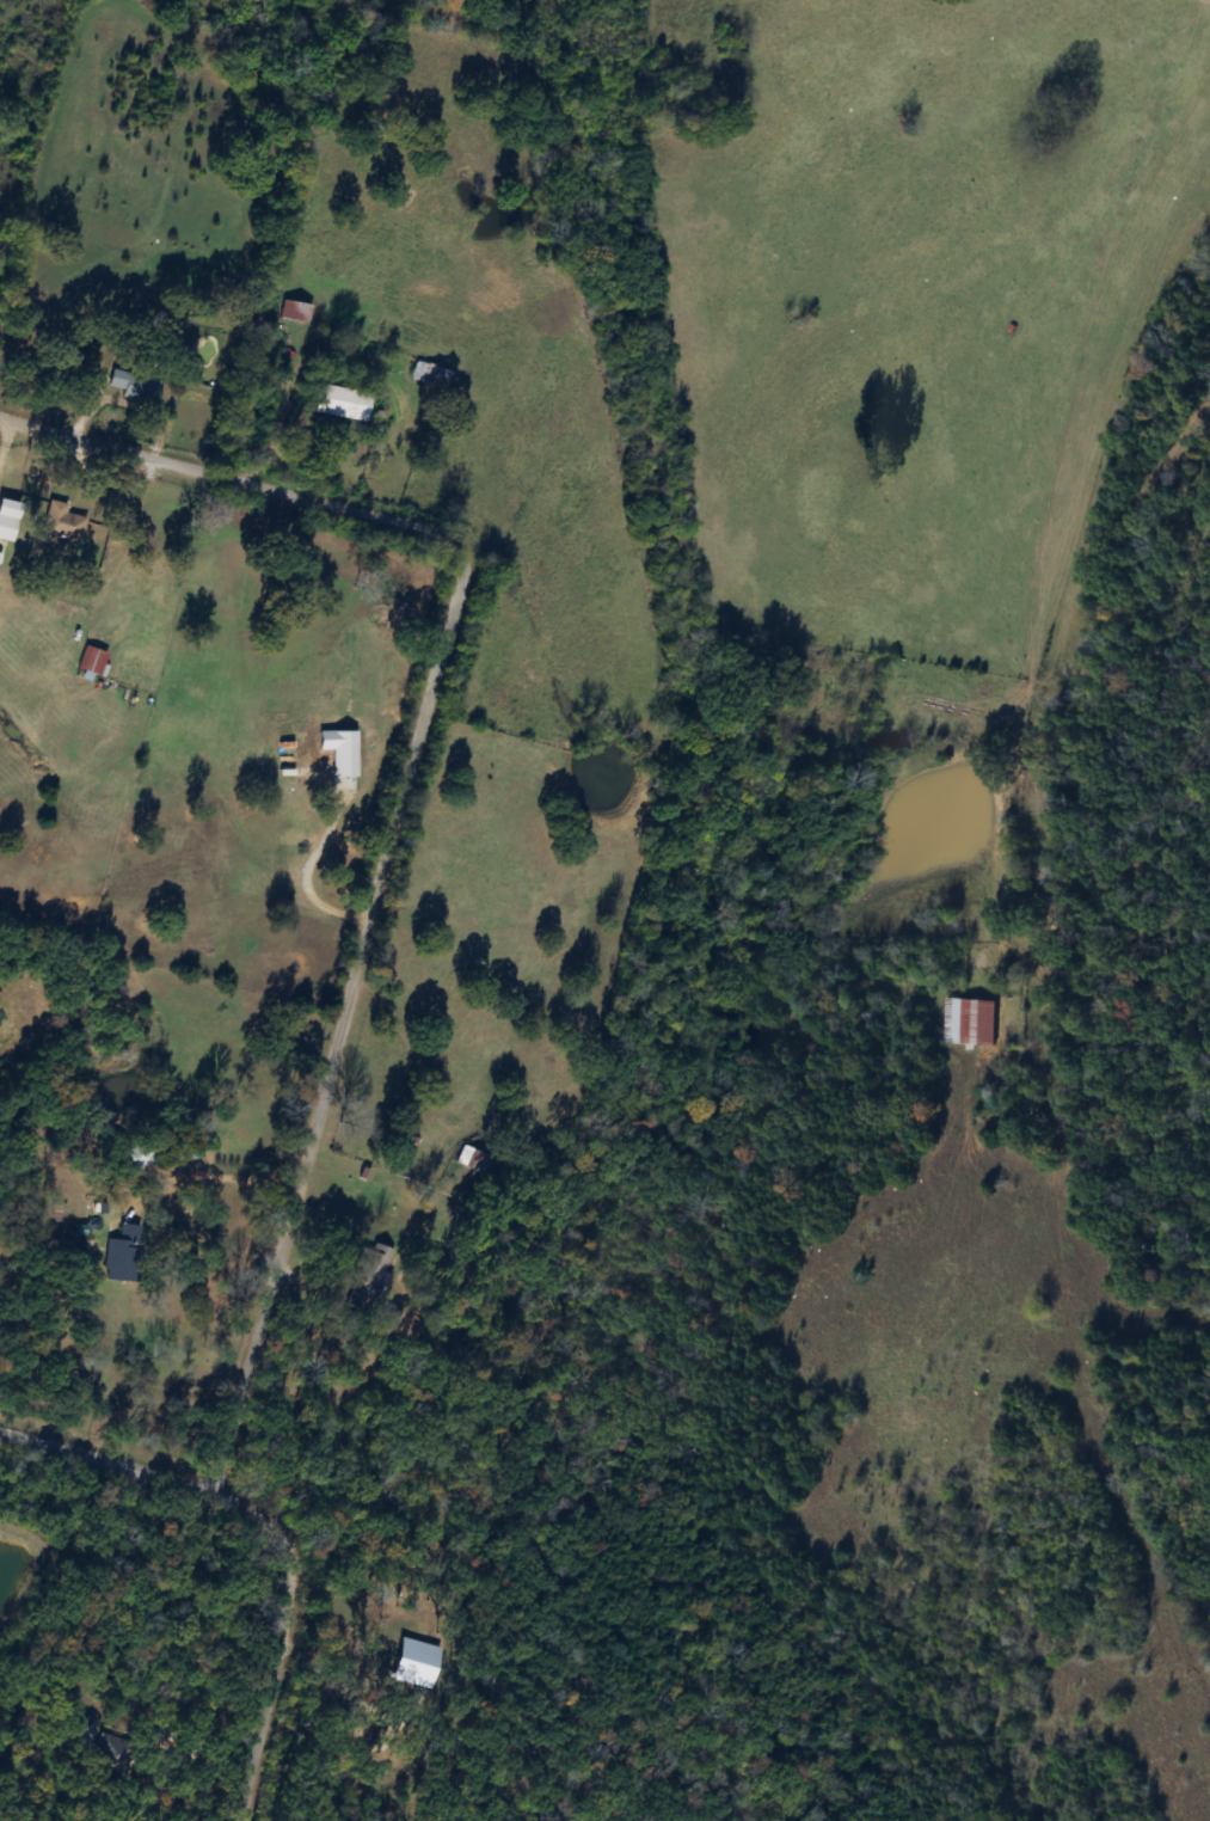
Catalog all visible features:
building: (294, 311)
building: (424, 372)
building: (134, 386)
building: (344, 403)
road: (233, 478)
building: (61, 516)
building: (90, 661)
road: (305, 873)
building: (959, 1019)
road: (339, 1022)
building: (140, 1155)
building: (473, 1158)
road: (210, 1172)
building: (122, 1253)
building: (374, 1276)
road: (280, 1529)
building: (112, 1756)

